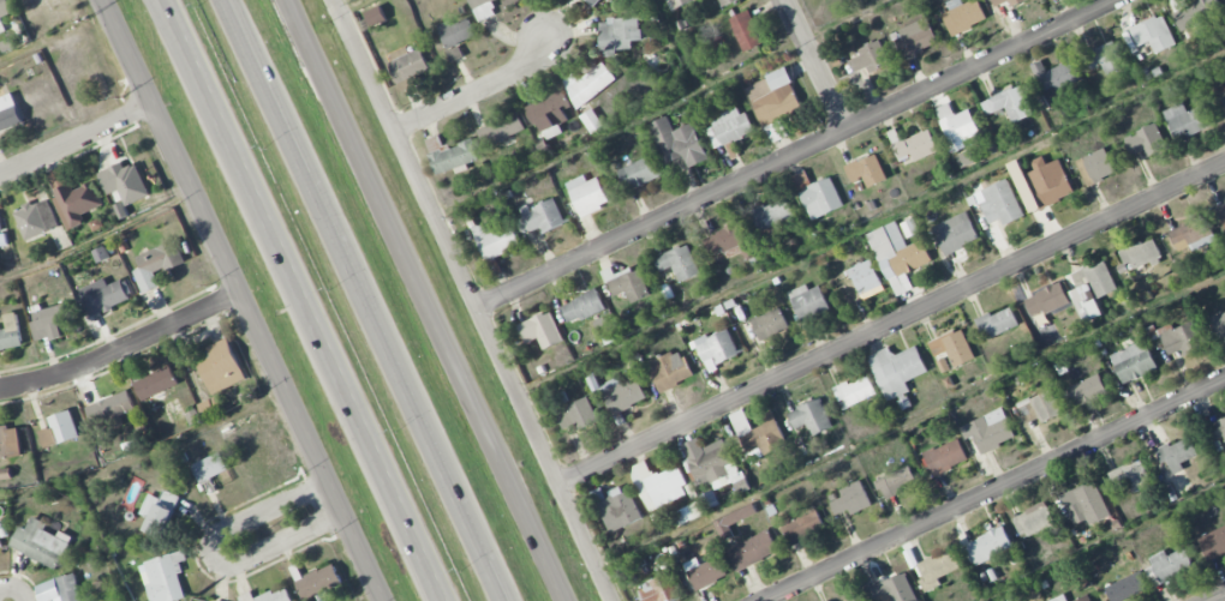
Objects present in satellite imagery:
building: (592, 1)
building: (680, 2)
building: (727, 2)
building: (1015, 2)
building: (483, 10)
building: (4, 12)
building: (1197, 13)
building: (963, 14)
road: (175, 23)
road: (180, 23)
building: (746, 31)
building: (1153, 34)
building: (617, 35)
building: (455, 36)
building: (916, 37)
building: (1105, 56)
building: (871, 58)
road: (815, 65)
building: (410, 66)
building: (1056, 80)
building: (588, 84)
road: (477, 90)
building: (775, 97)
building: (1224, 97)
building: (1010, 103)
building: (8, 113)
building: (549, 113)
building: (1189, 119)
building: (729, 126)
building: (957, 126)
building: (501, 128)
building: (1146, 140)
road: (76, 142)
building: (677, 143)
road: (796, 154)
building: (450, 155)
building: (1095, 167)
building: (867, 170)
building: (639, 172)
building: (58, 178)
building: (125, 182)
building: (1041, 182)
building: (586, 196)
building: (820, 198)
building: (76, 203)
building: (1000, 203)
building: (1221, 212)
building: (772, 214)
building: (540, 217)
building: (36, 218)
building: (955, 233)
building: (1191, 233)
building: (1, 236)
building: (495, 239)
building: (730, 240)
building: (1141, 254)
building: (898, 256)
building: (679, 263)
building: (157, 264)
building: (865, 277)
building: (627, 283)
building: (1093, 289)
building: (103, 295)
road: (369, 300)
road: (428, 300)
road: (473, 300)
building: (1047, 300)
road: (240, 301)
building: (808, 301)
building: (582, 306)
building: (52, 319)
road: (317, 323)
building: (997, 323)
building: (770, 324)
building: (1219, 324)
road: (891, 325)
building: (542, 330)
building: (10, 332)
building: (1182, 339)
building: (954, 347)
building: (717, 348)
road: (121, 349)
building: (1134, 361)
building: (944, 365)
building: (221, 367)
building: (670, 369)
building: (897, 369)
building: (156, 383)
building: (1087, 390)
building: (855, 391)
building: (211, 407)
building: (1039, 407)
building: (110, 408)
building: (579, 414)
building: (811, 416)
building: (1219, 428)
building: (59, 429)
building: (988, 431)
building: (758, 434)
building: (10, 441)
building: (1177, 455)
building: (945, 457)
building: (713, 464)
building: (210, 467)
building: (1130, 476)
building: (896, 481)
building: (658, 485)
road: (996, 491)
building: (850, 499)
building: (1086, 504)
building: (619, 509)
building: (159, 512)
building: (689, 512)
building: (1033, 519)
building: (733, 521)
building: (803, 527)
building: (41, 542)
building: (1213, 542)
building: (0, 543)
building: (990, 545)
building: (752, 551)
road: (209, 555)
building: (1167, 566)
building: (938, 569)
building: (705, 572)
building: (166, 578)
building: (318, 582)
road: (16, 587)
building: (1127, 587)
building: (60, 589)
building: (659, 589)
building: (895, 589)
building: (269, 595)
road: (1219, 597)
building: (859, 599)
building: (1059, 599)
building: (1083, 599)

